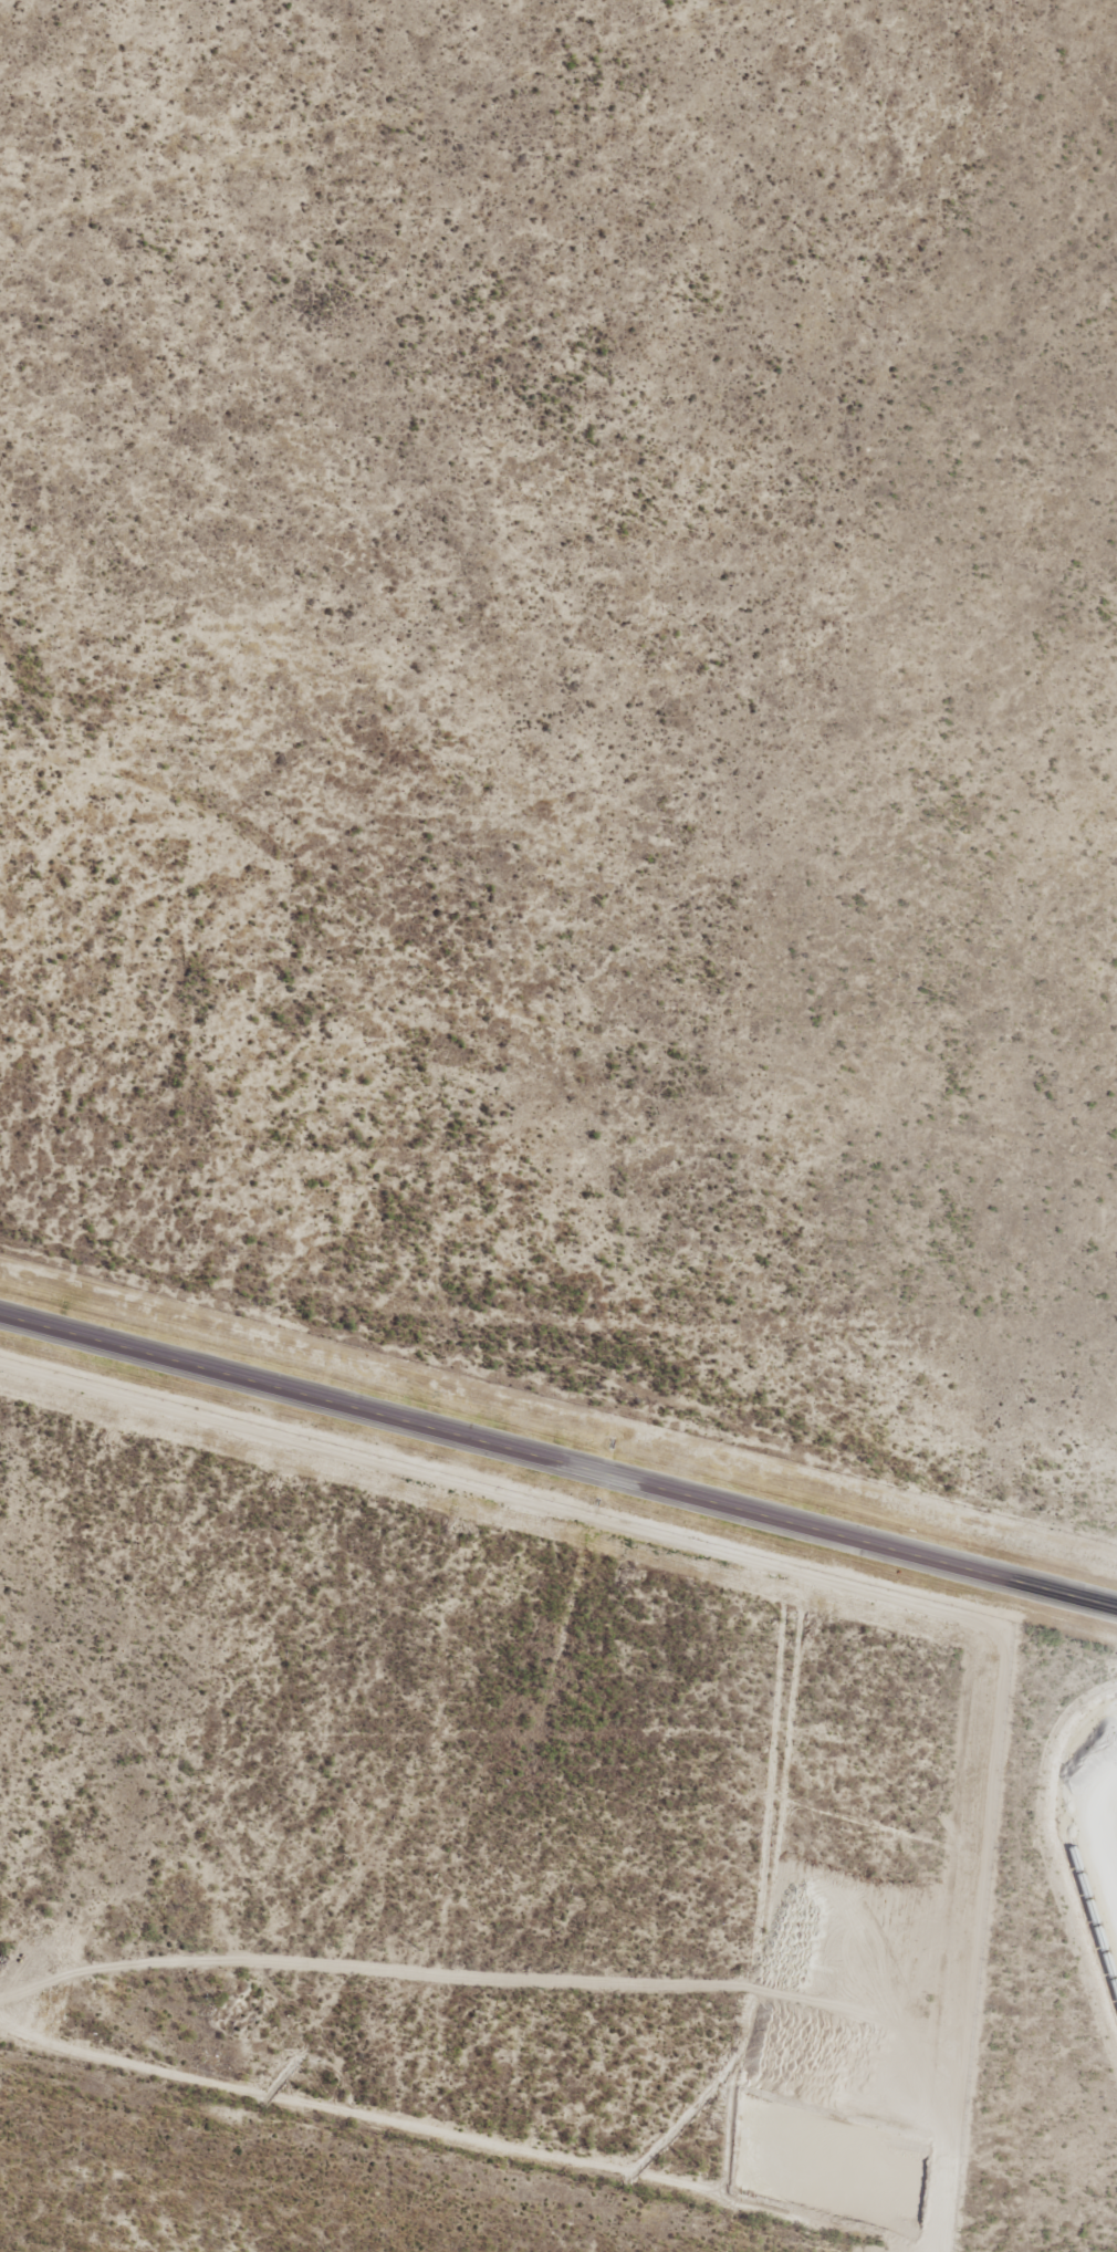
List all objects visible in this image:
road: (558, 1472)

